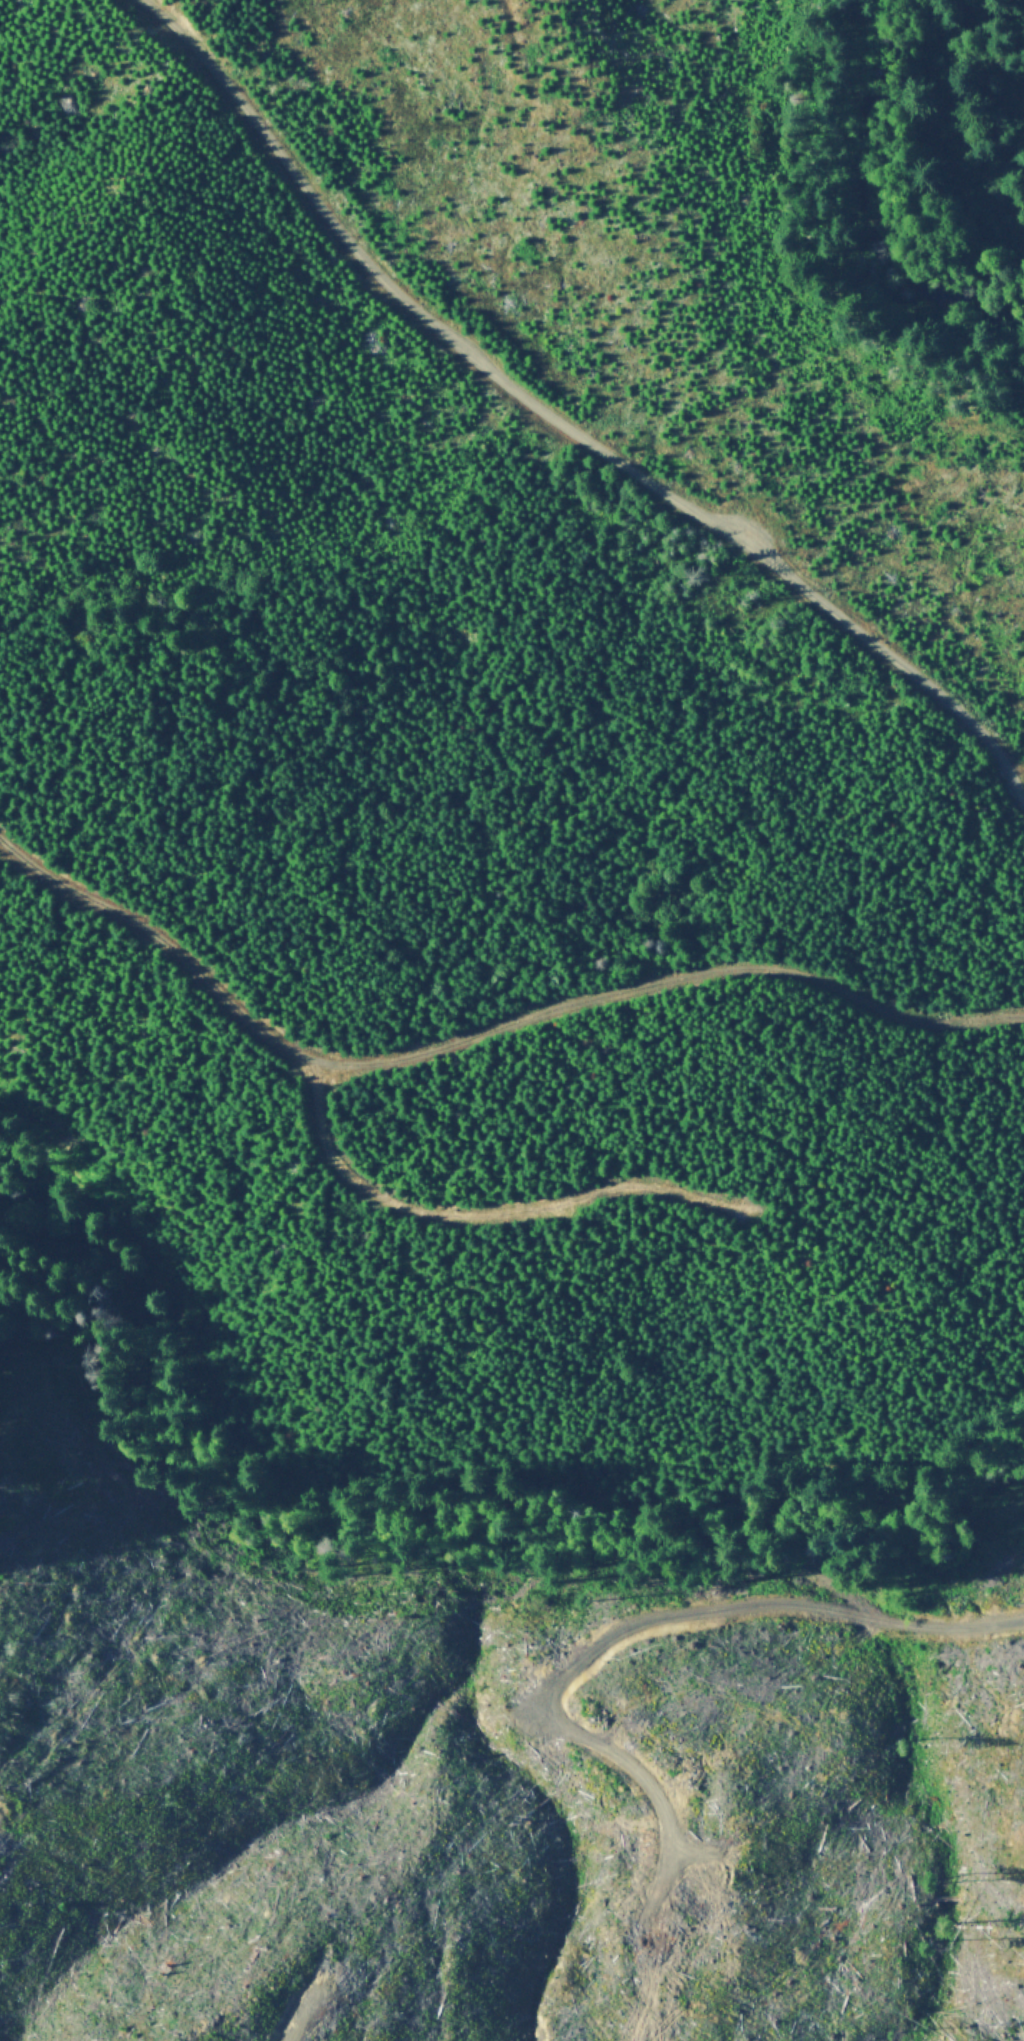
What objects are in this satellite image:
road: (561, 423)
road: (481, 1029)
road: (484, 1219)
road: (2, 1539)

